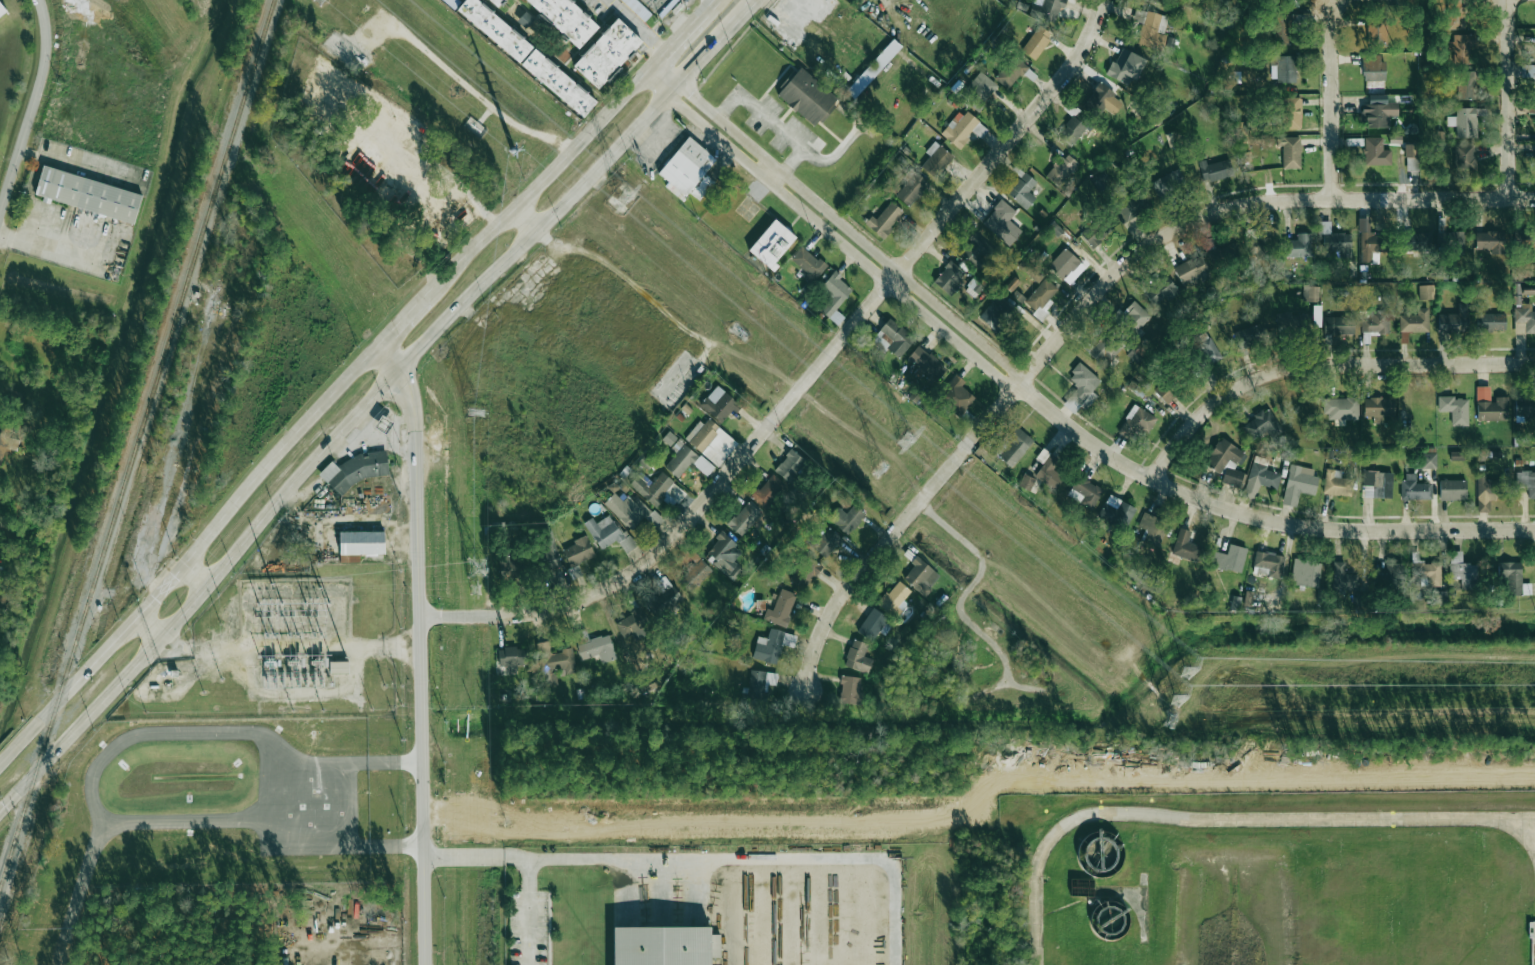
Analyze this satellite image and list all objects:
road: (714, 1)
building: (500, 2)
road: (613, 2)
building: (659, 6)
road: (710, 6)
building: (1054, 7)
building: (2, 10)
road: (676, 16)
building: (569, 19)
building: (527, 20)
building: (1151, 27)
road: (641, 28)
building: (1284, 34)
building: (1378, 36)
road: (677, 42)
building: (1038, 43)
building: (1467, 49)
building: (610, 54)
building: (530, 56)
building: (1129, 67)
building: (1376, 68)
building: (1532, 72)
building: (1011, 73)
building: (980, 87)
building: (1469, 91)
building: (808, 97)
road: (1509, 99)
building: (1104, 101)
road: (1334, 103)
road: (31, 105)
building: (1295, 113)
building: (1378, 114)
building: (1465, 123)
building: (1078, 124)
building: (956, 134)
road: (787, 137)
road: (415, 146)
building: (1375, 152)
building: (1291, 153)
building: (1413, 158)
building: (1466, 158)
road: (791, 161)
building: (938, 161)
power tower: (522, 166)
building: (688, 166)
building: (1215, 170)
building: (1056, 176)
road: (776, 179)
building: (1172, 180)
road: (538, 184)
building: (913, 189)
building: (1024, 191)
road: (466, 192)
building: (89, 195)
power tower: (623, 201)
building: (1132, 209)
road: (525, 218)
building: (886, 220)
road: (838, 222)
building: (1003, 223)
road: (831, 237)
building: (1485, 238)
building: (1093, 239)
building: (1450, 241)
building: (775, 244)
building: (1337, 244)
building: (1303, 245)
building: (1371, 248)
building: (1066, 263)
building: (808, 264)
building: (1193, 269)
building: (1035, 273)
building: (950, 278)
building: (1419, 291)
building: (1163, 293)
building: (833, 294)
building: (1311, 294)
building: (1041, 295)
building: (1522, 306)
road: (1078, 315)
building: (1136, 315)
building: (995, 316)
building: (1412, 320)
road: (402, 321)
building: (1470, 321)
building: (1288, 323)
building: (1373, 323)
building: (1339, 326)
building: (1243, 337)
building: (895, 338)
building: (1213, 351)
building: (927, 364)
road: (1324, 366)
road: (808, 380)
building: (1083, 384)
building: (1167, 393)
building: (957, 396)
road: (369, 397)
building: (720, 404)
building: (1487, 404)
building: (1527, 405)
building: (1337, 408)
building: (1375, 408)
building: (1452, 409)
power tower: (476, 413)
building: (1138, 424)
building: (1259, 426)
building: (701, 434)
building: (671, 441)
power tower: (907, 443)
railway: (135, 447)
building: (1017, 448)
building: (1221, 455)
building: (681, 460)
building: (1425, 460)
building: (792, 464)
power tower: (877, 467)
building: (355, 471)
building: (1298, 483)
building: (1376, 485)
building: (652, 486)
building: (1414, 488)
building: (1453, 489)
building: (768, 490)
building: (1486, 490)
building: (1084, 492)
building: (627, 509)
building: (1116, 511)
road: (1261, 512)
building: (655, 518)
building: (744, 518)
building: (846, 518)
building: (1152, 529)
building: (608, 532)
building: (826, 542)
building: (360, 543)
building: (548, 543)
building: (1185, 545)
building: (578, 551)
road: (187, 552)
building: (724, 556)
building: (1230, 558)
building: (510, 563)
building: (1268, 563)
power tower: (475, 569)
building: (1393, 569)
building: (1463, 570)
building: (575, 571)
building: (805, 572)
building: (1425, 572)
building: (1306, 573)
building: (694, 574)
building: (921, 576)
building: (1511, 576)
road: (192, 577)
building: (1344, 577)
building: (664, 598)
building: (895, 598)
building: (781, 608)
building: (872, 623)
building: (633, 625)
road: (145, 632)
building: (581, 637)
building: (772, 644)
building: (597, 648)
road: (419, 649)
road: (289, 650)
power substation: (281, 651)
building: (512, 655)
building: (858, 656)
building: (553, 662)
building: (339, 666)
power tower: (1188, 676)
building: (761, 681)
road: (359, 684)
building: (850, 689)
power tower: (1172, 719)
road: (1227, 819)
road: (708, 857)
wastewater plant: (1269, 876)
road: (530, 909)
parking lot: (528, 928)
building: (662, 945)

